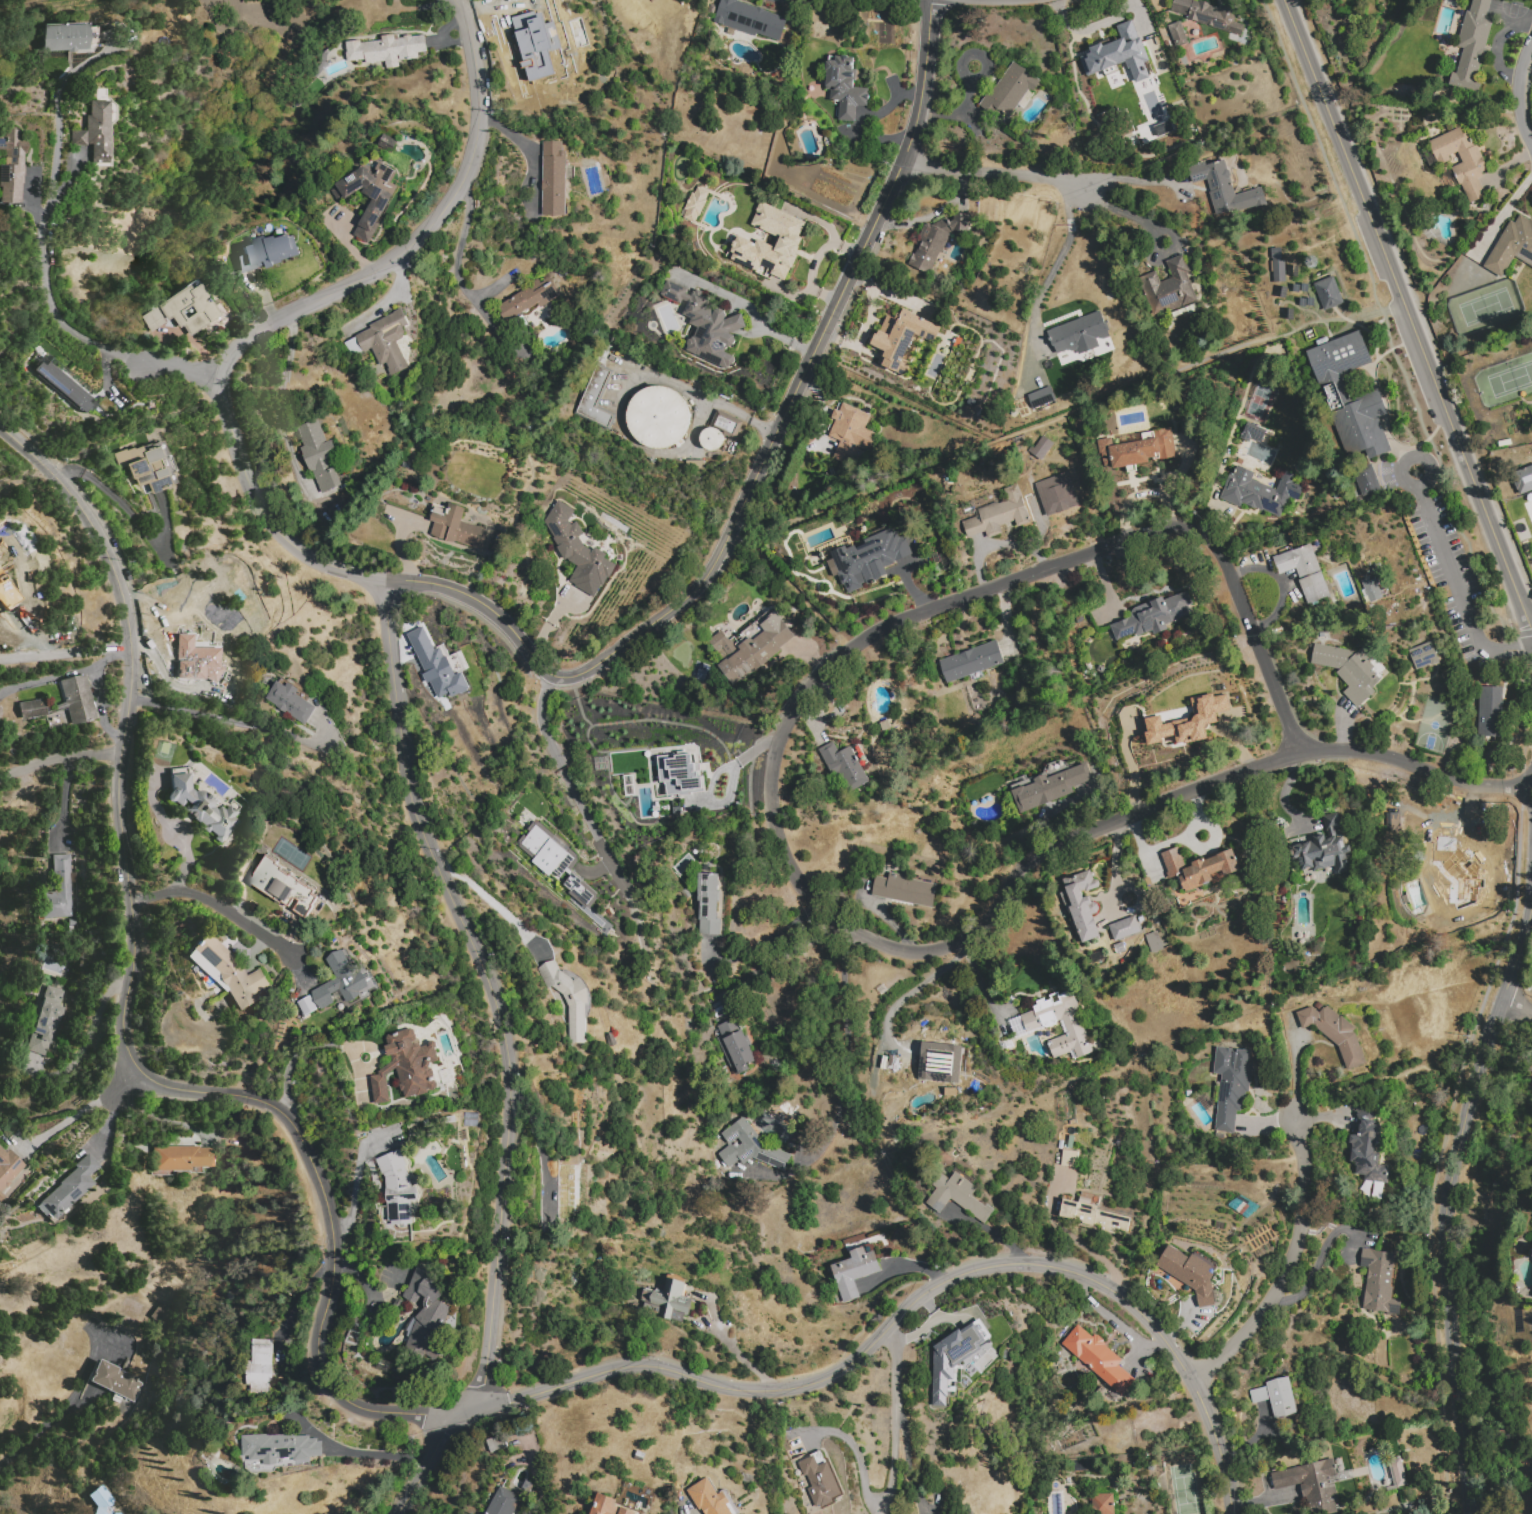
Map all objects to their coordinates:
building: (1456, 0)
building: (1208, 15)
building: (748, 20)
road: (1091, 27)
building: (1178, 34)
building: (64, 37)
building: (534, 40)
building: (1472, 47)
building: (386, 50)
building: (1112, 59)
building: (845, 88)
building: (1010, 89)
road: (1519, 92)
building: (1162, 127)
building: (95, 132)
building: (388, 143)
road: (518, 143)
building: (1461, 161)
building: (12, 165)
road: (996, 173)
building: (554, 179)
road: (1134, 180)
building: (1226, 188)
building: (370, 195)
building: (696, 204)
road: (932, 214)
road: (1125, 215)
building: (939, 237)
building: (789, 241)
building: (1512, 247)
building: (270, 258)
road: (46, 260)
road: (453, 266)
building: (1278, 270)
road: (1049, 275)
building: (1170, 287)
building: (1328, 293)
building: (530, 298)
road: (387, 299)
park: (1485, 306)
building: (183, 309)
road: (748, 309)
road: (1408, 312)
building: (706, 327)
building: (1080, 333)
building: (901, 339)
building: (382, 341)
building: (1338, 357)
road: (1386, 365)
park: (1510, 379)
building: (64, 383)
road: (281, 392)
building: (1042, 399)
building: (595, 401)
road: (1070, 415)
building: (663, 417)
building: (1359, 423)
building: (850, 433)
building: (715, 441)
building: (1041, 448)
building: (1136, 450)
building: (319, 456)
building: (145, 468)
road: (756, 473)
building: (1522, 479)
building: (1365, 481)
building: (1260, 491)
building: (1057, 494)
building: (999, 515)
road: (131, 519)
building: (457, 528)
parking lot: (1437, 542)
building: (578, 547)
building: (869, 559)
building: (1305, 571)
road: (1452, 571)
road: (792, 587)
building: (8, 589)
building: (1371, 589)
road: (385, 610)
building: (1154, 616)
building: (750, 650)
road: (1517, 650)
road: (67, 651)
building: (199, 652)
building: (1422, 655)
building: (969, 662)
building: (437, 667)
building: (1351, 671)
building: (77, 699)
building: (290, 702)
building: (32, 708)
building: (1490, 712)
building: (0, 714)
road: (228, 721)
building: (1186, 721)
road: (61, 759)
road: (1416, 765)
building: (844, 767)
building: (672, 779)
building: (1049, 783)
road: (62, 801)
road: (581, 803)
building: (202, 807)
road: (171, 831)
building: (540, 844)
road: (1168, 844)
building: (1322, 848)
building: (1200, 868)
building: (1443, 873)
building: (284, 886)
building: (57, 890)
building: (905, 890)
building: (708, 904)
building: (1080, 904)
road: (493, 905)
road: (228, 913)
road: (842, 925)
building: (1125, 928)
road: (764, 940)
building: (1153, 941)
building: (231, 972)
building: (340, 980)
building: (568, 998)
road: (1516, 1006)
road: (124, 1007)
building: (44, 1023)
building: (1064, 1024)
building: (1334, 1033)
road: (87, 1042)
road: (879, 1044)
building: (735, 1046)
building: (940, 1063)
building: (405, 1066)
road: (1292, 1068)
road: (1133, 1073)
building: (1231, 1085)
road: (82, 1110)
road: (161, 1115)
building: (749, 1147)
building: (1368, 1152)
building: (183, 1158)
building: (8, 1167)
road: (357, 1175)
building: (68, 1186)
building: (398, 1187)
building: (571, 1188)
building: (1, 1195)
building: (956, 1197)
road: (1447, 1204)
building: (1095, 1217)
building: (1531, 1256)
road: (1288, 1265)
building: (854, 1272)
building: (1191, 1273)
building: (1379, 1280)
building: (668, 1301)
road: (903, 1313)
building: (426, 1315)
road: (1114, 1323)
road: (737, 1355)
building: (953, 1357)
building: (1097, 1358)
building: (260, 1367)
building: (115, 1380)
building: (1277, 1397)
road: (36, 1435)
building: (495, 1443)
building: (278, 1451)
road: (374, 1455)
road: (424, 1467)
building: (1398, 1472)
road: (535, 1475)
road: (894, 1480)
building: (819, 1482)
building: (1312, 1484)
building: (100, 1496)
building: (709, 1498)
building: (502, 1502)
building: (1102, 1504)
building: (608, 1506)
road: (882, 1507)

